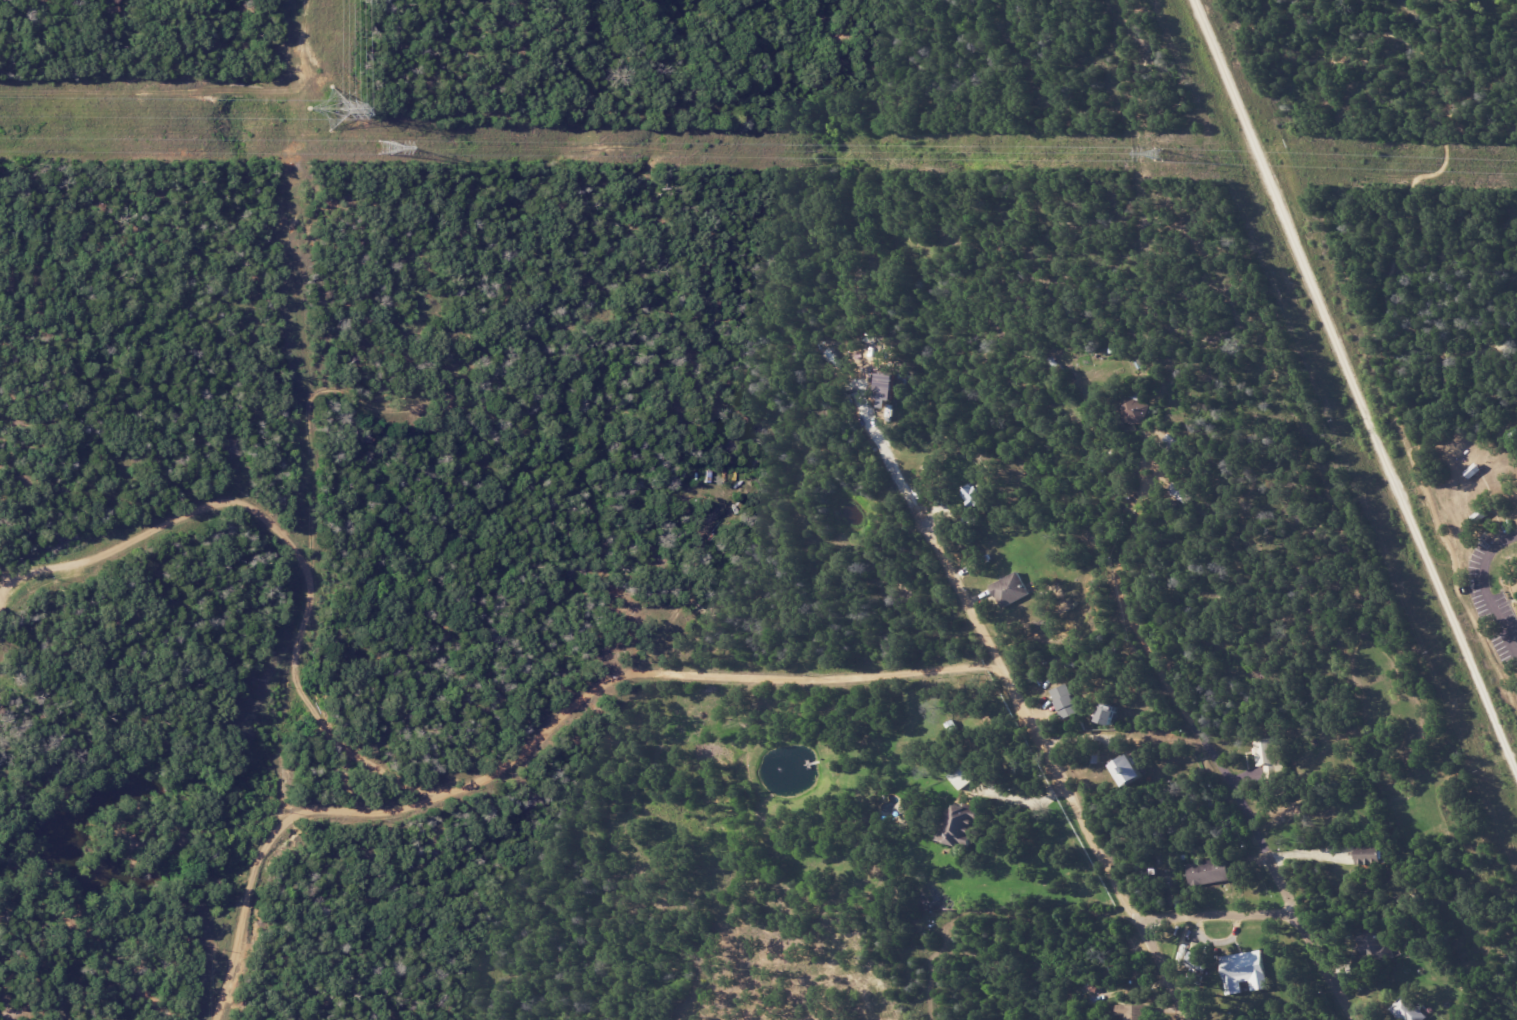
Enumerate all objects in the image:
road: (1484, 83)
power tower: (326, 111)
power tower: (383, 148)
power tower: (1157, 156)
road: (1410, 201)
road: (1476, 343)
road: (1355, 385)
building: (886, 394)
building: (1133, 408)
road: (894, 470)
building: (973, 495)
road: (1516, 531)
road: (1485, 588)
building: (1009, 589)
building: (1065, 701)
building: (1106, 715)
road: (544, 747)
road: (1213, 751)
building: (1269, 756)
building: (1126, 770)
road: (1066, 786)
road: (1022, 802)
building: (958, 825)
building: (1368, 854)
building: (1207, 871)
road: (1270, 901)
building: (1242, 971)
building: (1407, 1009)
building: (1132, 1011)

